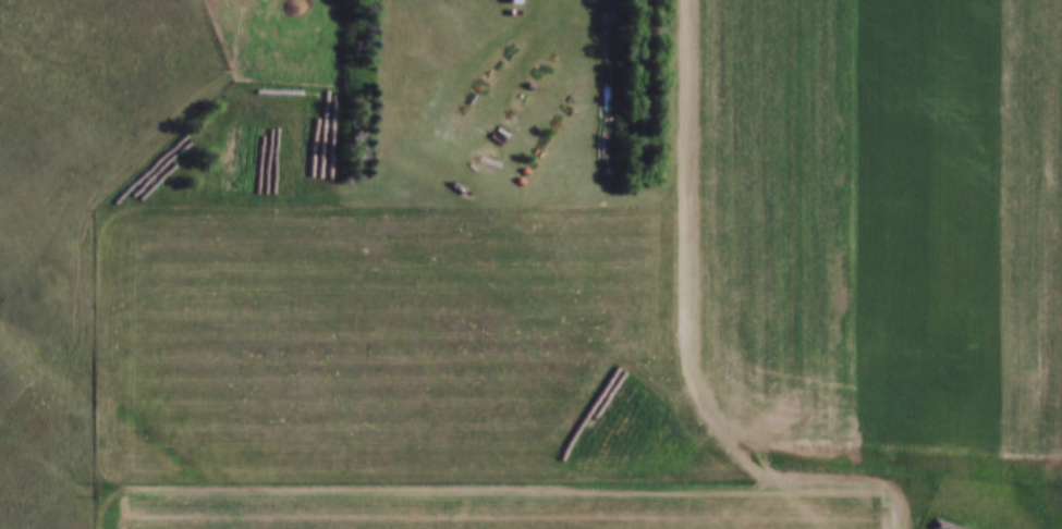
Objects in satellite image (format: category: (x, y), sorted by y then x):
building: (932, 524)

